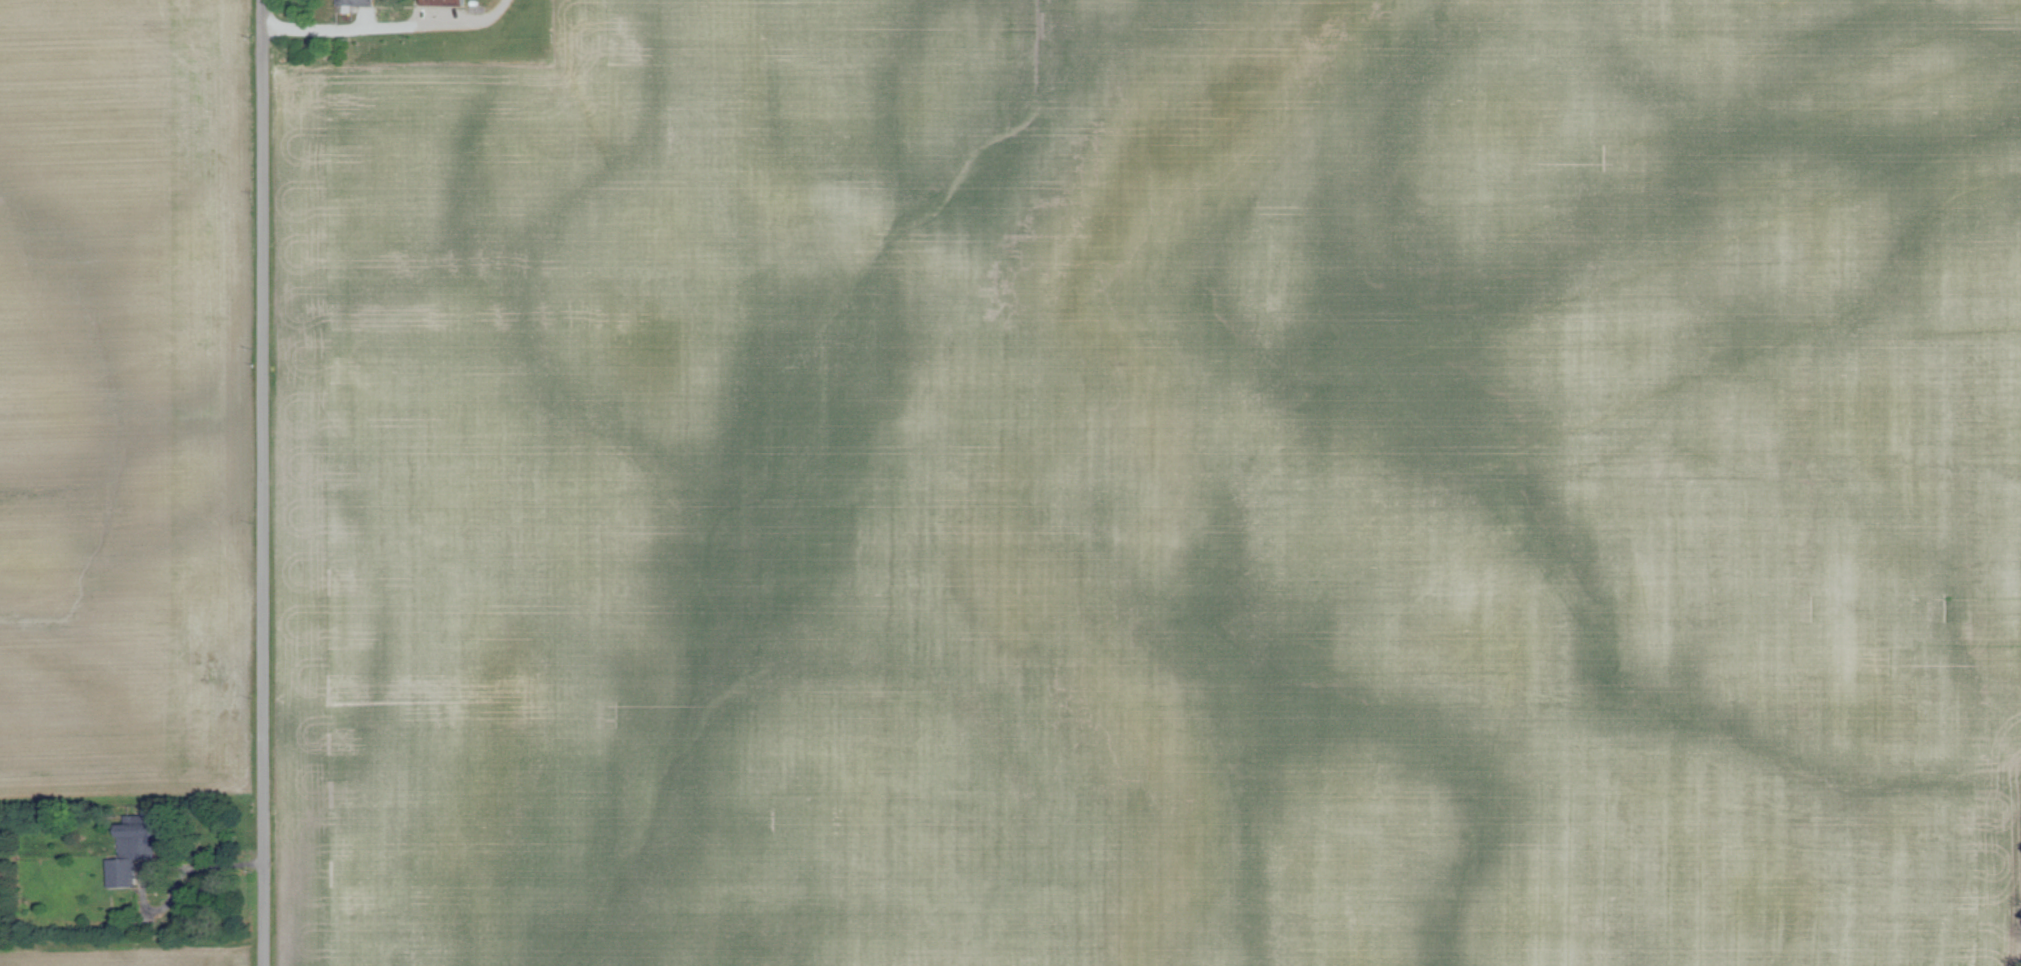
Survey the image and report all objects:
building: (358, 2)
building: (442, 2)
road: (370, 25)
road: (261, 482)
building: (137, 850)
road: (203, 864)

